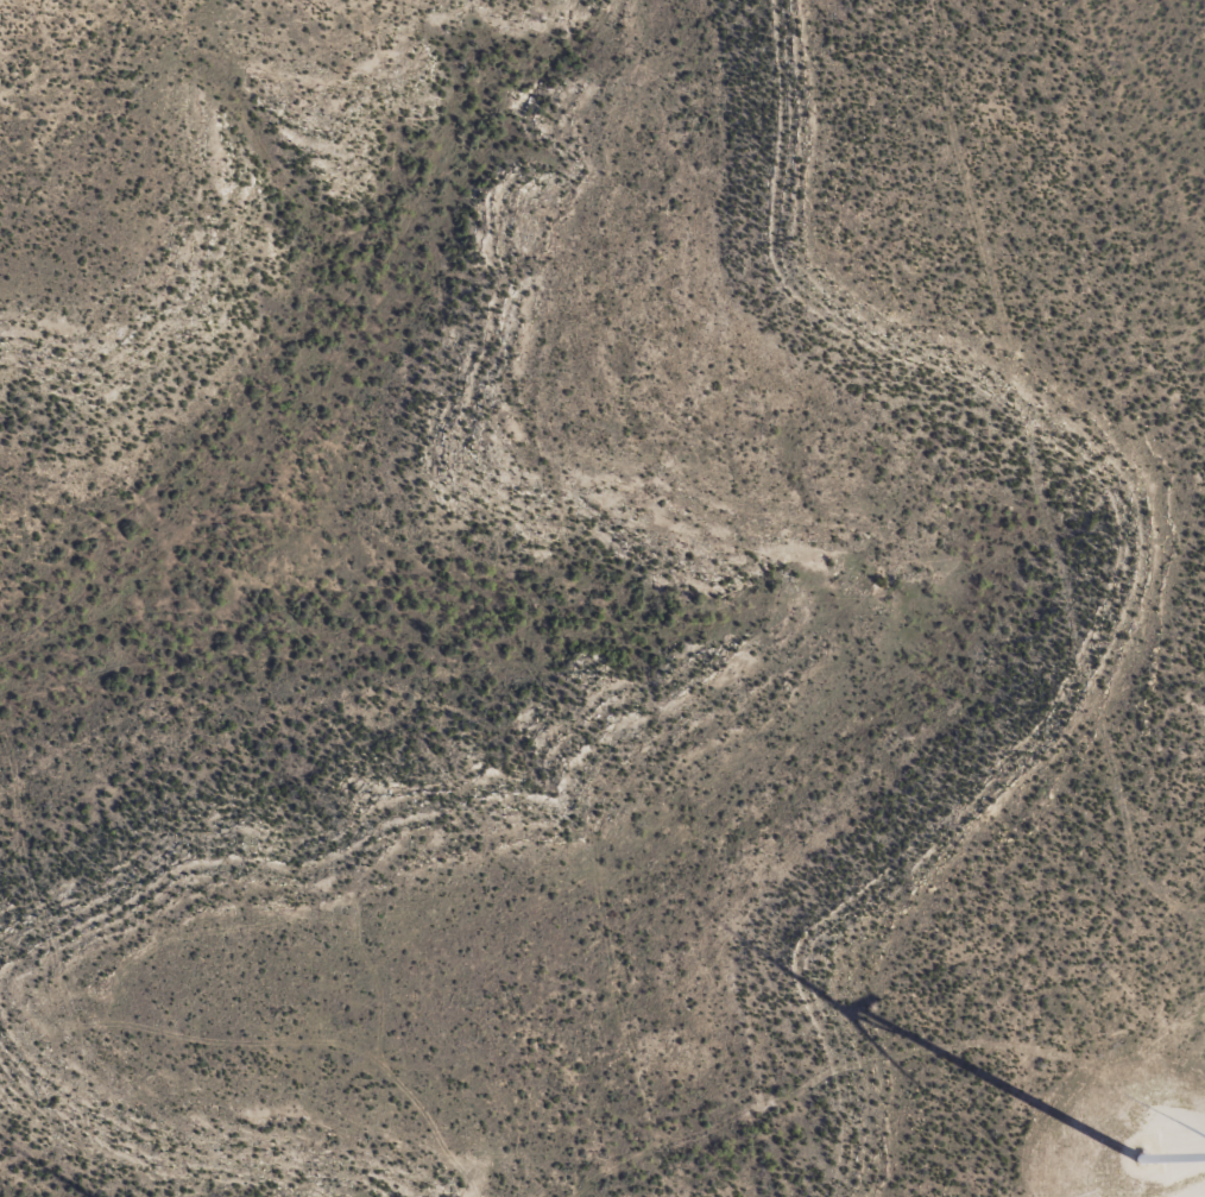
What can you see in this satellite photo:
wind turbine: (1163, 1146)

